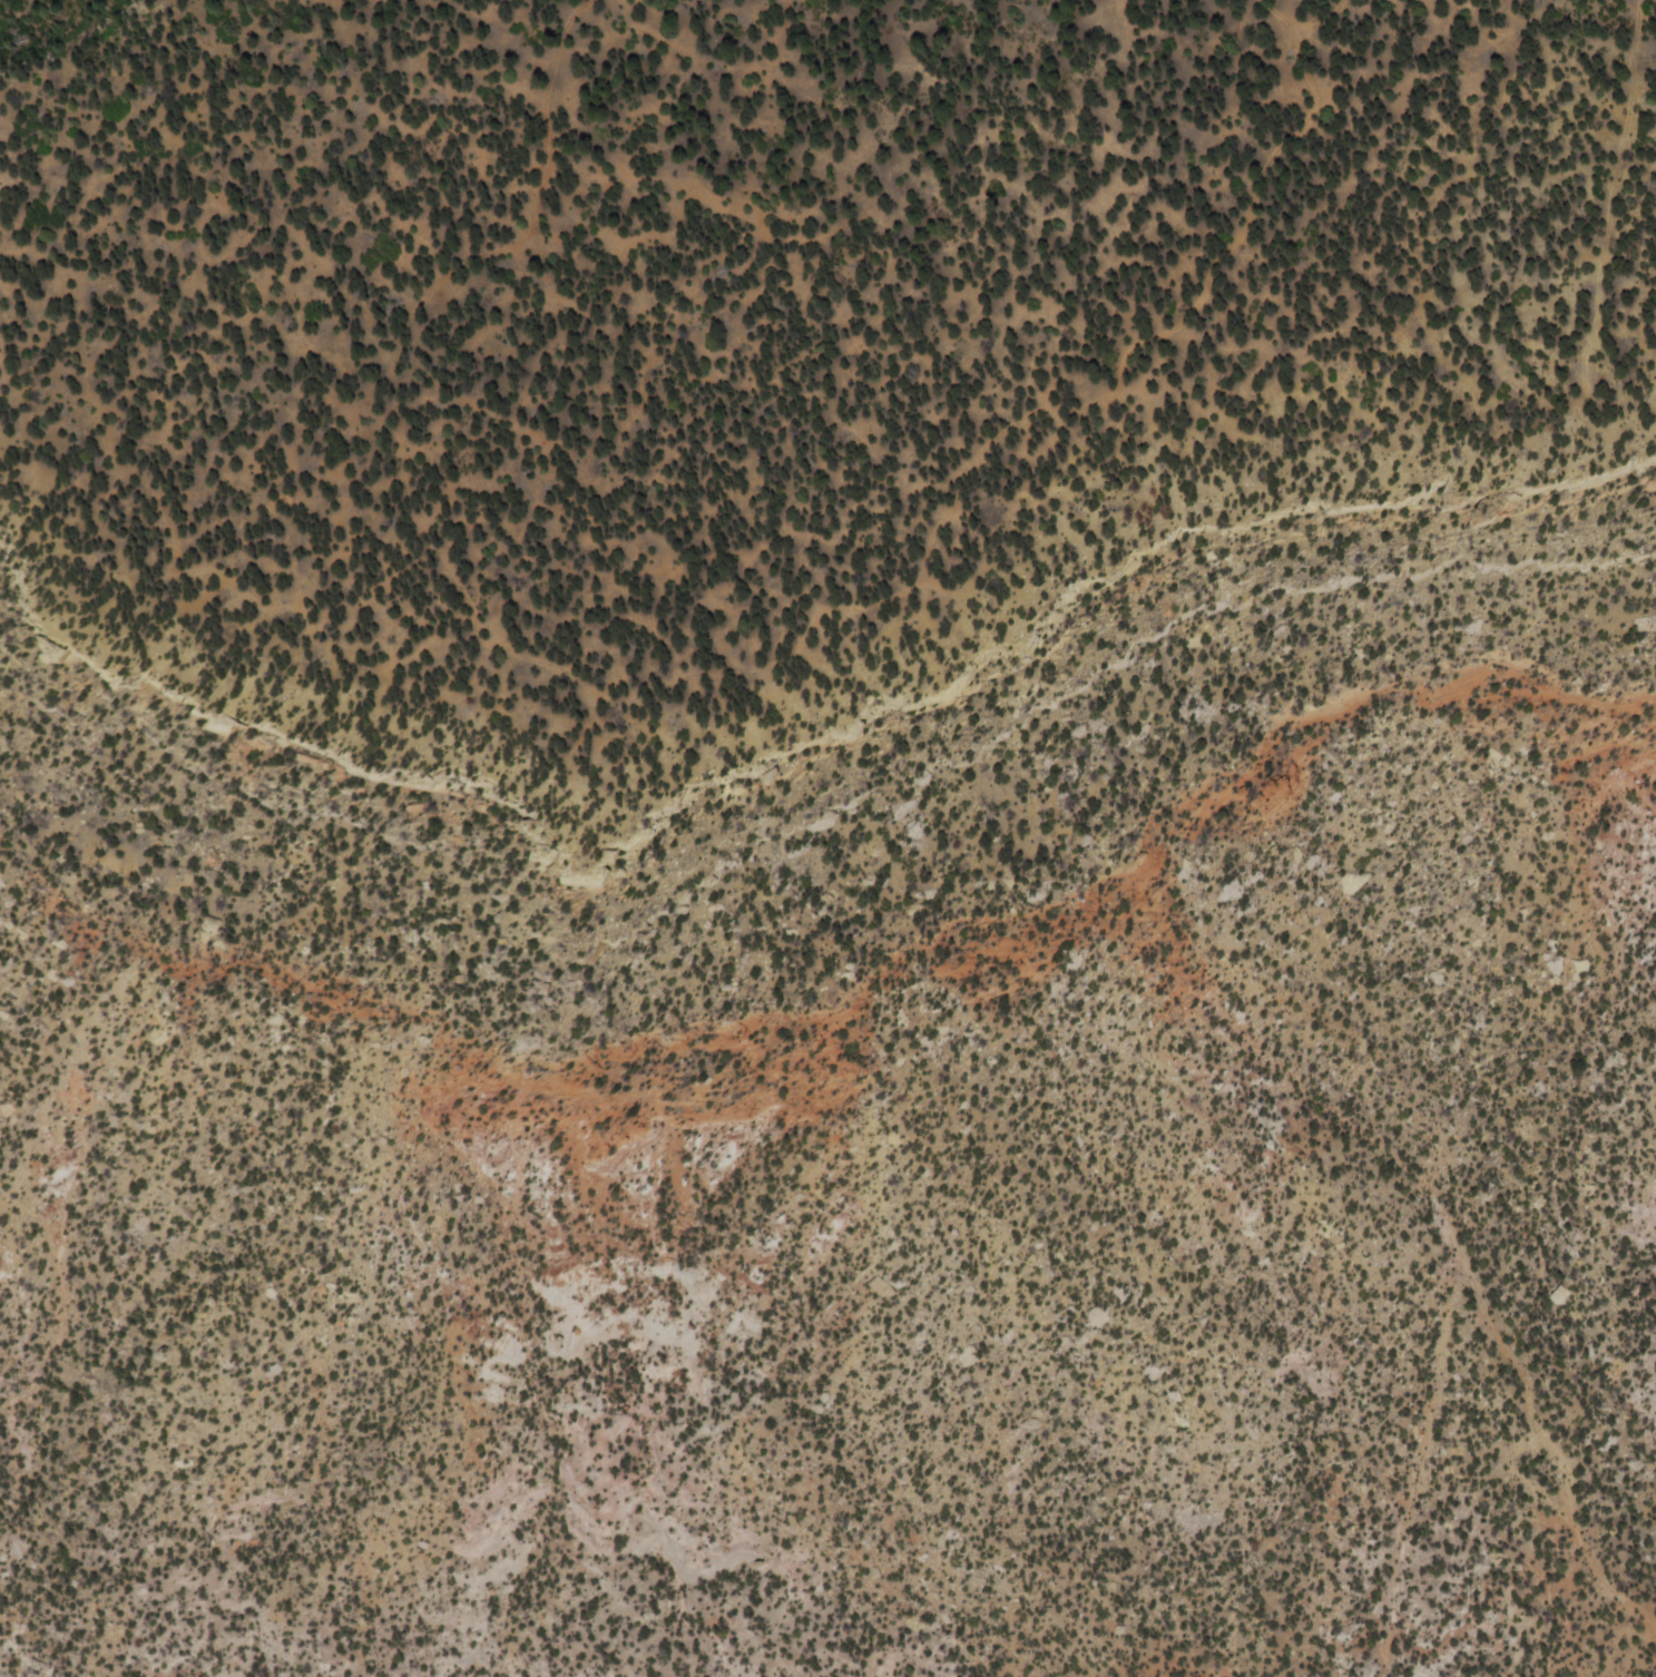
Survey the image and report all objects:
road: (1407, 1)
road: (1456, 1480)

